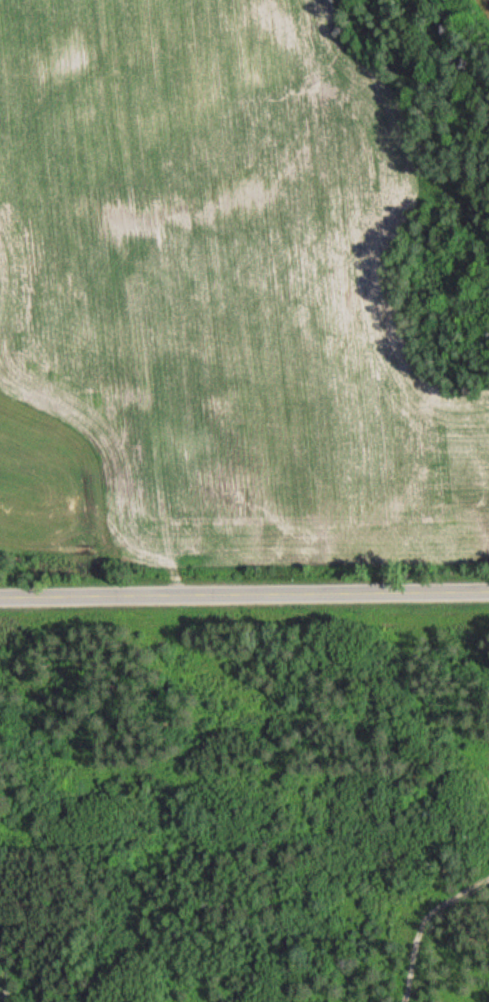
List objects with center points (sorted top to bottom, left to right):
road: (244, 595)

